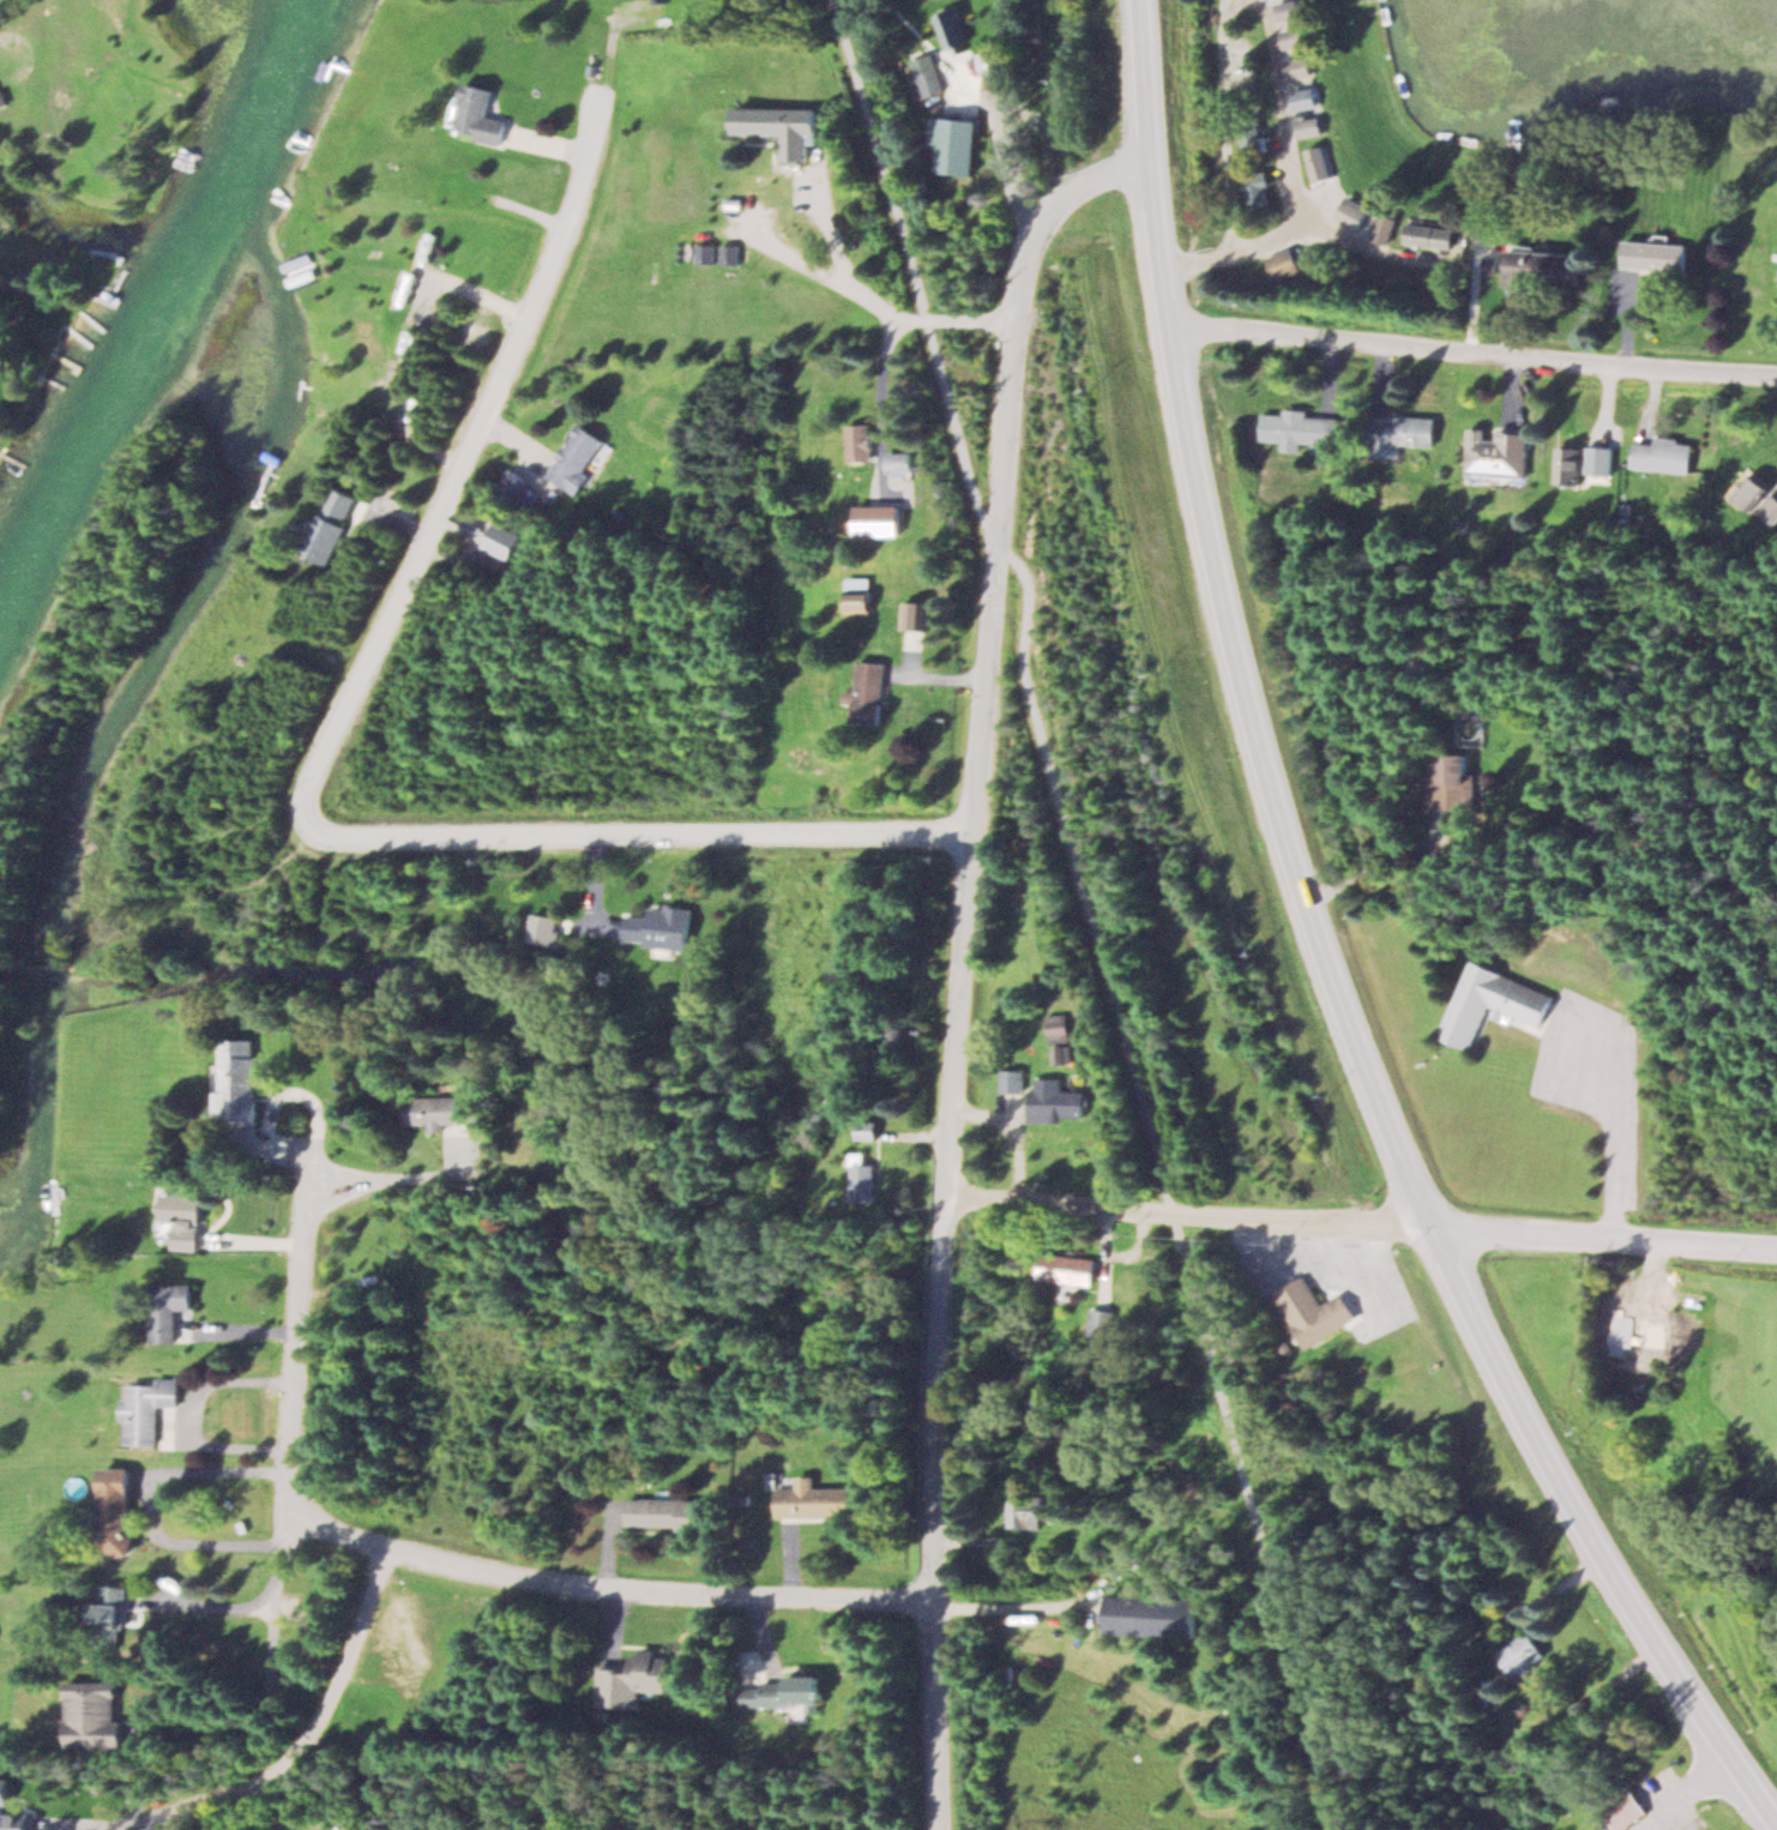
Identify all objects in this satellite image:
building: (1291, 19)
building: (923, 71)
building: (1306, 97)
building: (478, 114)
road: (1288, 116)
building: (781, 125)
building: (1312, 125)
road: (1224, 127)
building: (1253, 137)
building: (1323, 162)
building: (1258, 188)
building: (1356, 212)
building: (1386, 227)
building: (1432, 233)
road: (1349, 242)
building: (703, 252)
building: (727, 252)
building: (1657, 255)
road: (1197, 259)
building: (1284, 263)
building: (1548, 263)
road: (871, 300)
river: (151, 309)
road: (1475, 353)
building: (1296, 428)
building: (1410, 429)
building: (861, 441)
road: (480, 446)
building: (1498, 452)
building: (1667, 455)
building: (577, 457)
building: (902, 459)
building: (1571, 464)
building: (1757, 490)
building: (1771, 507)
building: (332, 524)
building: (861, 594)
building: (917, 614)
building: (872, 692)
building: (1469, 726)
building: (1454, 781)
road: (657, 838)
road: (1088, 915)
building: (657, 926)
building: (544, 928)
road: (1329, 957)
road: (966, 958)
building: (1492, 1001)
building: (1058, 1027)
building: (1011, 1079)
building: (241, 1082)
building: (1055, 1103)
building: (441, 1109)
building: (862, 1178)
building: (55, 1199)
building: (180, 1218)
road: (1360, 1222)
building: (1487, 1223)
building: (1067, 1268)
building: (1640, 1299)
building: (169, 1310)
building: (1312, 1311)
road: (305, 1325)
building: (1100, 1325)
building: (149, 1410)
building: (817, 1498)
building: (115, 1507)
building: (668, 1511)
building: (1024, 1511)
road: (661, 1595)
building: (112, 1606)
building: (1153, 1614)
building: (1519, 1653)
building: (1770, 1667)
building: (637, 1678)
building: (788, 1690)
building: (94, 1715)
building: (1625, 1808)
building: (1608, 1828)

